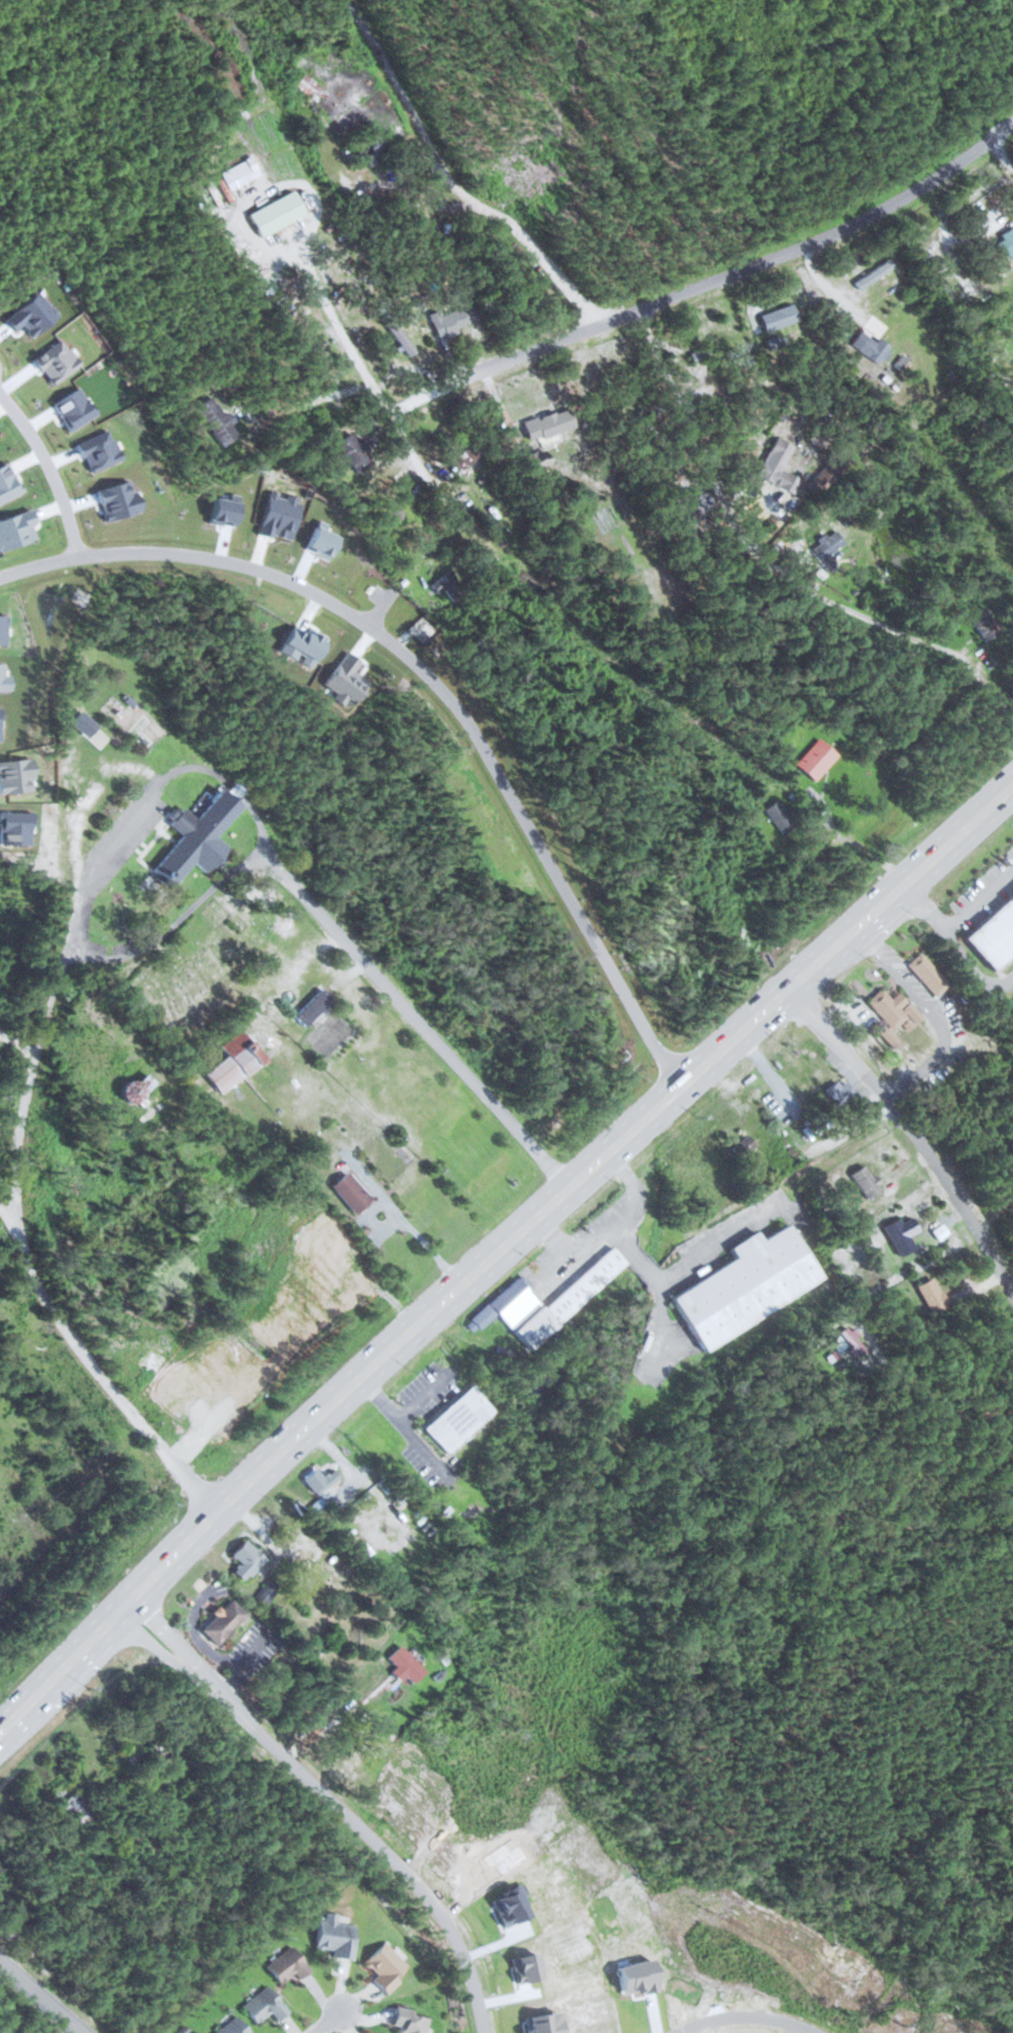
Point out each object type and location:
building: (310, 89)
building: (280, 140)
building: (367, 149)
building: (1006, 243)
building: (863, 275)
road: (713, 278)
road: (325, 284)
building: (777, 318)
building: (449, 322)
building: (401, 348)
building: (872, 351)
building: (698, 356)
building: (215, 422)
building: (539, 435)
road: (408, 444)
building: (355, 452)
building: (466, 458)
building: (770, 458)
road: (49, 468)
building: (830, 471)
building: (408, 505)
road: (737, 536)
building: (829, 545)
building: (985, 624)
road: (434, 680)
building: (816, 760)
building: (779, 817)
building: (195, 825)
building: (750, 868)
road: (65, 930)
building: (994, 935)
building: (927, 975)
road: (423, 1025)
building: (901, 1025)
building: (234, 1063)
building: (134, 1088)
building: (840, 1092)
road: (914, 1127)
building: (866, 1181)
building: (350, 1191)
building: (901, 1234)
building: (315, 1236)
road: (497, 1249)
building: (746, 1285)
building: (573, 1295)
building: (932, 1297)
building: (508, 1299)
building: (852, 1341)
road: (91, 1369)
building: (162, 1373)
building: (464, 1417)
road: (51, 1423)
building: (319, 1479)
building: (246, 1560)
building: (267, 1594)
building: (223, 1622)
building: (406, 1665)
road: (335, 1800)
building: (72, 1802)
building: (336, 1935)
building: (287, 1965)
building: (385, 1967)
road: (41, 1996)
building: (264, 2005)
road: (749, 2015)
road: (327, 2020)
building: (408, 2021)
building: (233, 2027)

